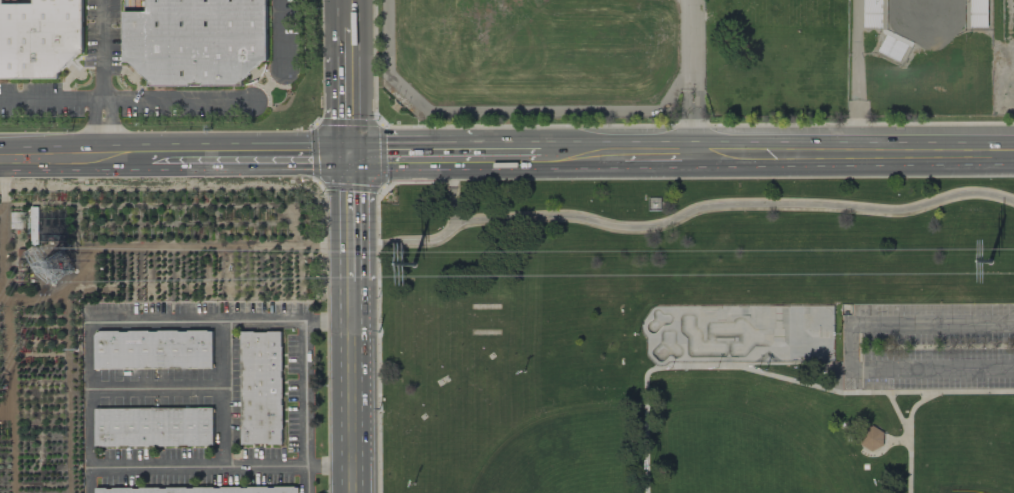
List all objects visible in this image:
road: (351, 12)
building: (39, 37)
road: (280, 38)
building: (196, 41)
road: (352, 48)
road: (691, 78)
road: (859, 78)
road: (104, 81)
road: (128, 98)
road: (508, 110)
road: (353, 116)
road: (852, 156)
road: (657, 158)
road: (582, 159)
road: (509, 160)
road: (415, 161)
road: (52, 162)
road: (130, 162)
road: (254, 162)
traffic signals: (353, 162)
road: (733, 205)
road: (353, 222)
road: (438, 238)
power tower: (990, 260)
power tower: (416, 262)
power tower: (59, 268)
road: (136, 320)
park: (739, 334)
building: (693, 336)
park: (698, 339)
road: (327, 344)
road: (877, 348)
parking lot: (938, 349)
building: (152, 350)
road: (223, 354)
road: (771, 374)
road: (194, 388)
building: (261, 388)
road: (354, 388)
road: (302, 391)
building: (153, 427)
building: (872, 437)
road: (910, 438)
road: (891, 442)
park: (753, 445)
park: (535, 447)
park: (527, 451)
road: (313, 463)
road: (196, 465)
park: (984, 474)
road: (370, 477)
building: (202, 490)

